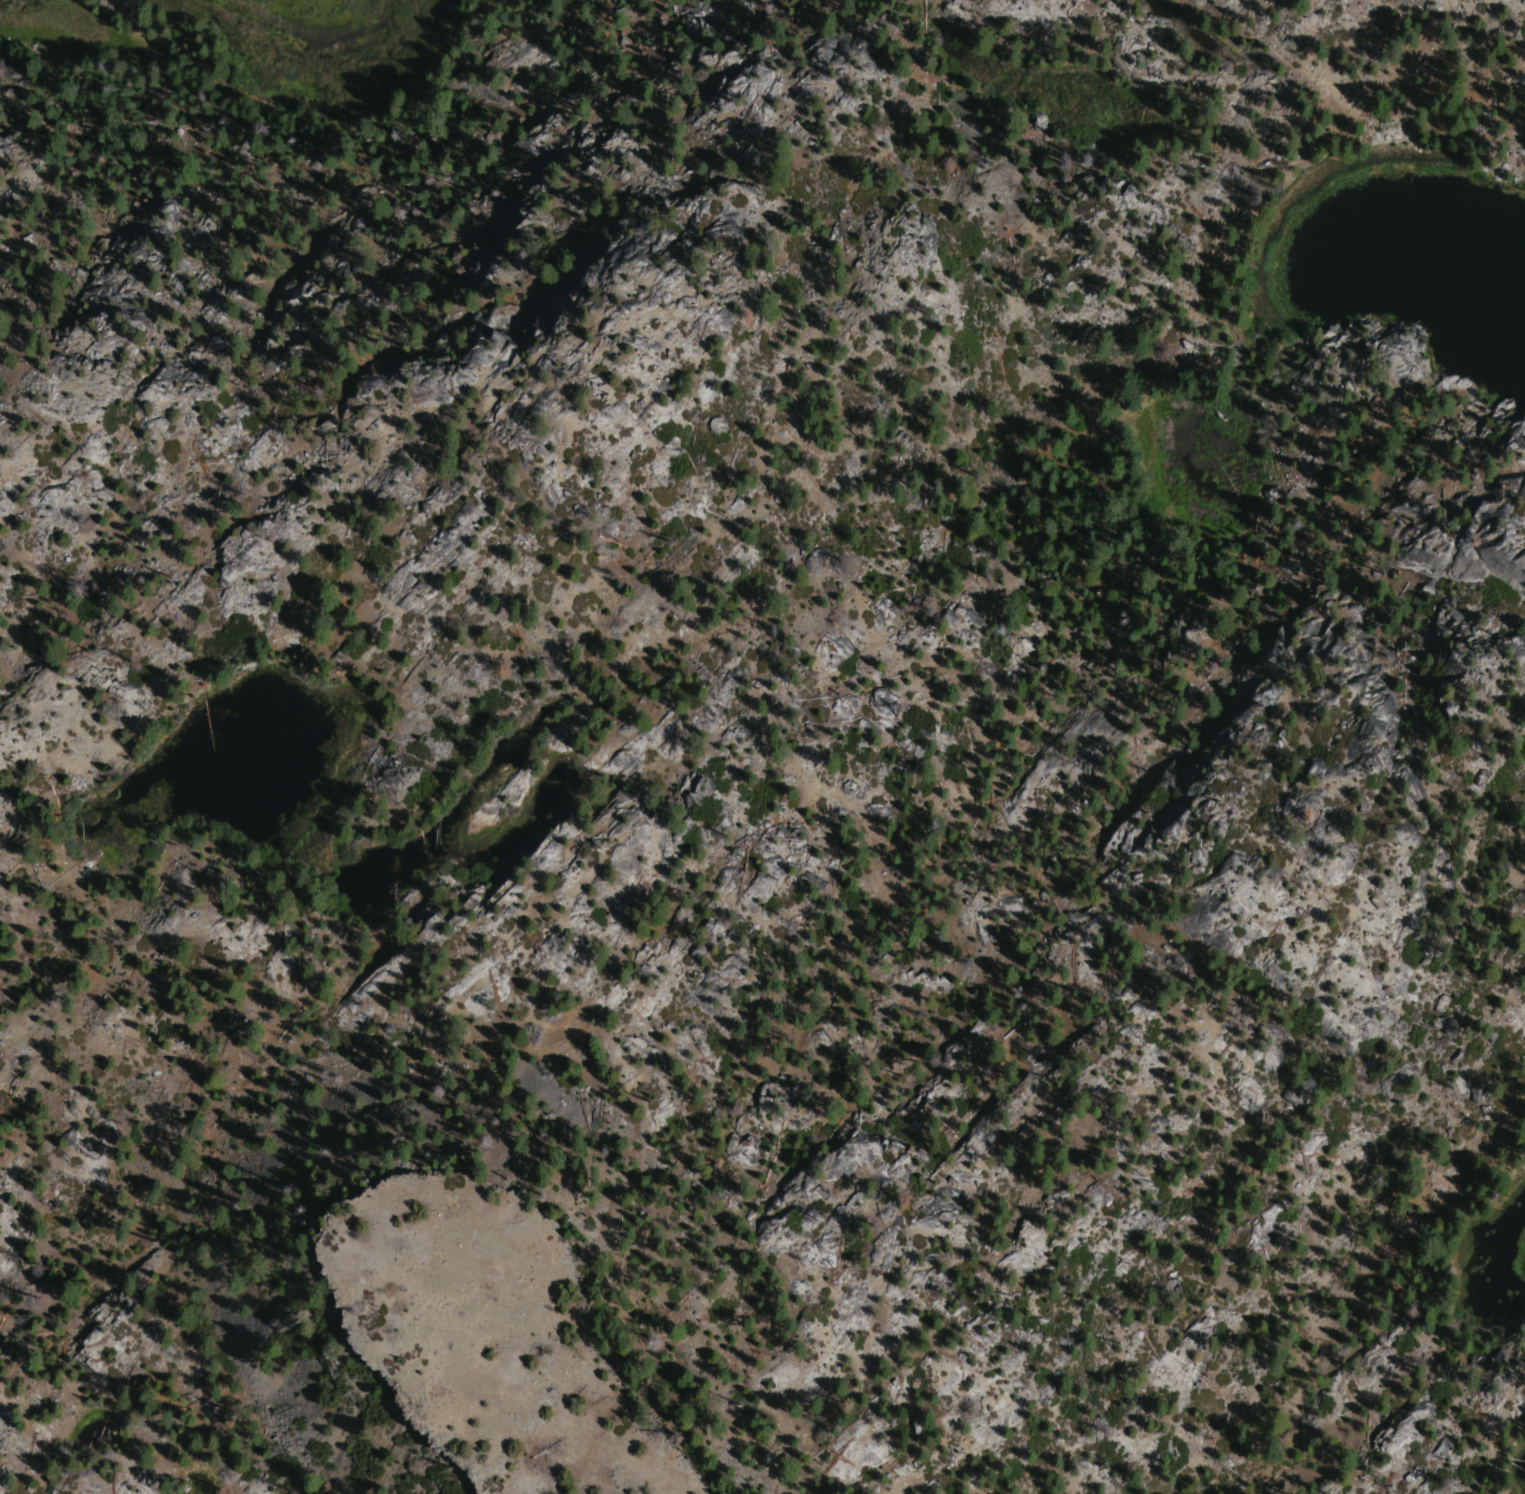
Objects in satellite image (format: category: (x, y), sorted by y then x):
road: (1345, 94)

